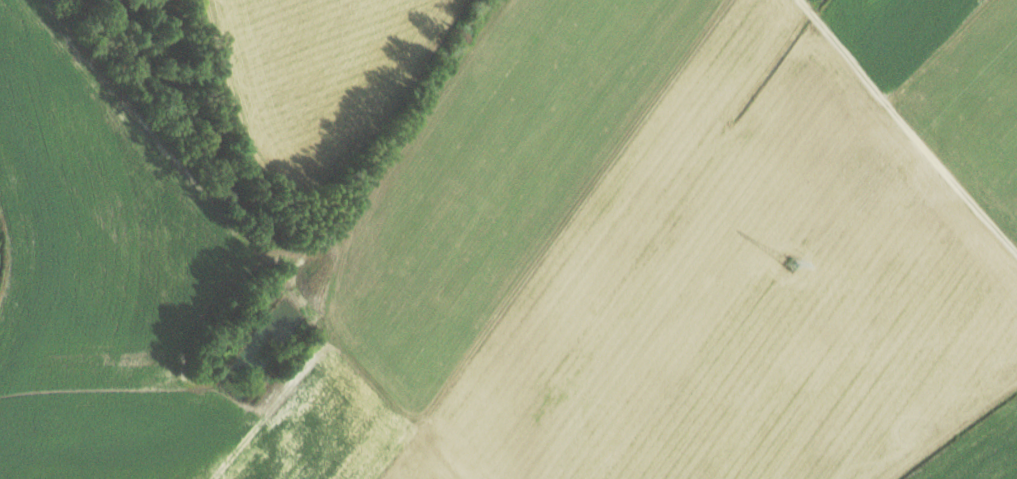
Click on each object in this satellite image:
power tower: (791, 265)

